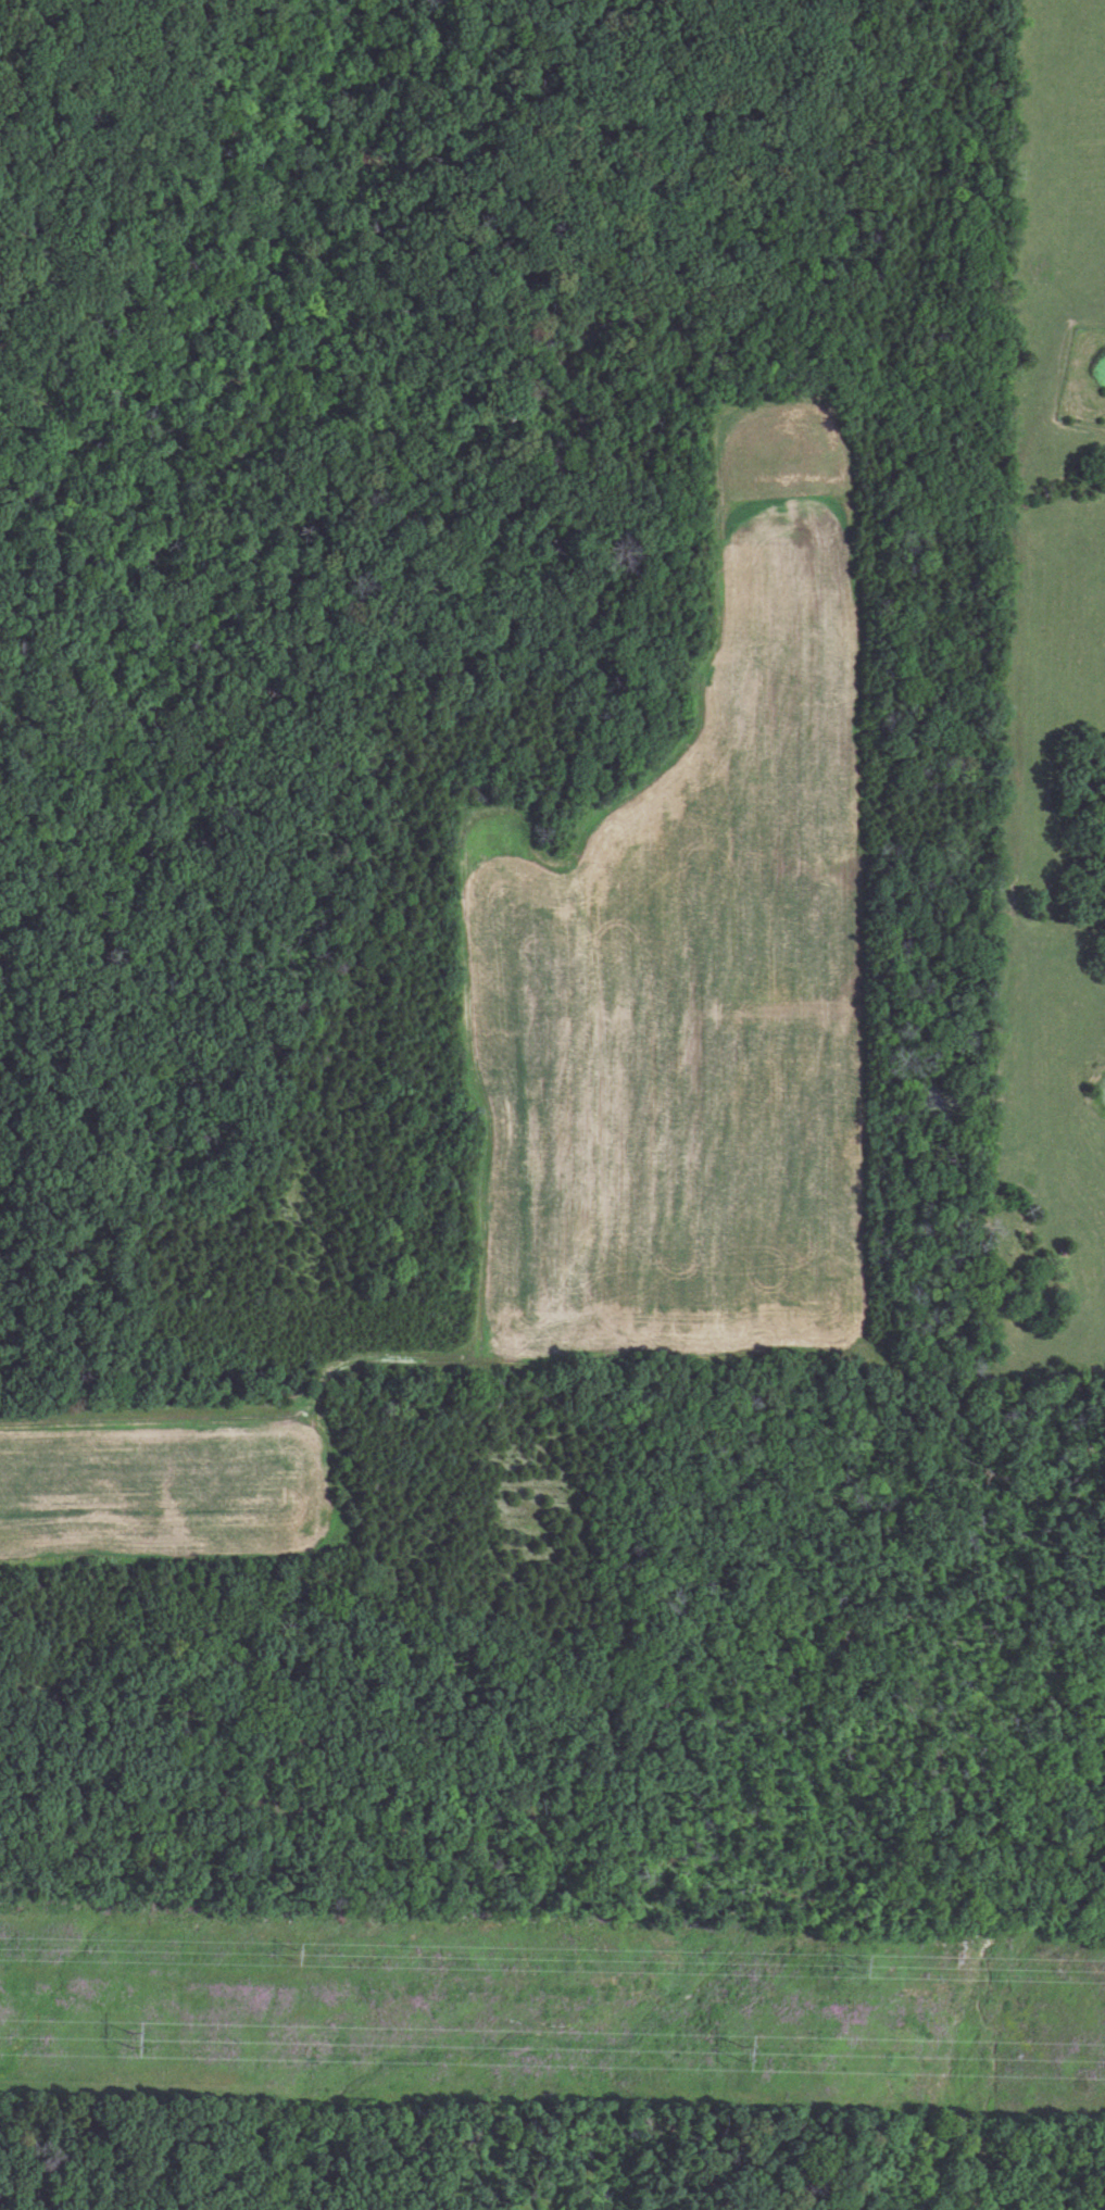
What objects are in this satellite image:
power tower: (285, 1955)
power tower: (834, 1962)
power tower: (127, 2039)
power tower: (741, 2055)

